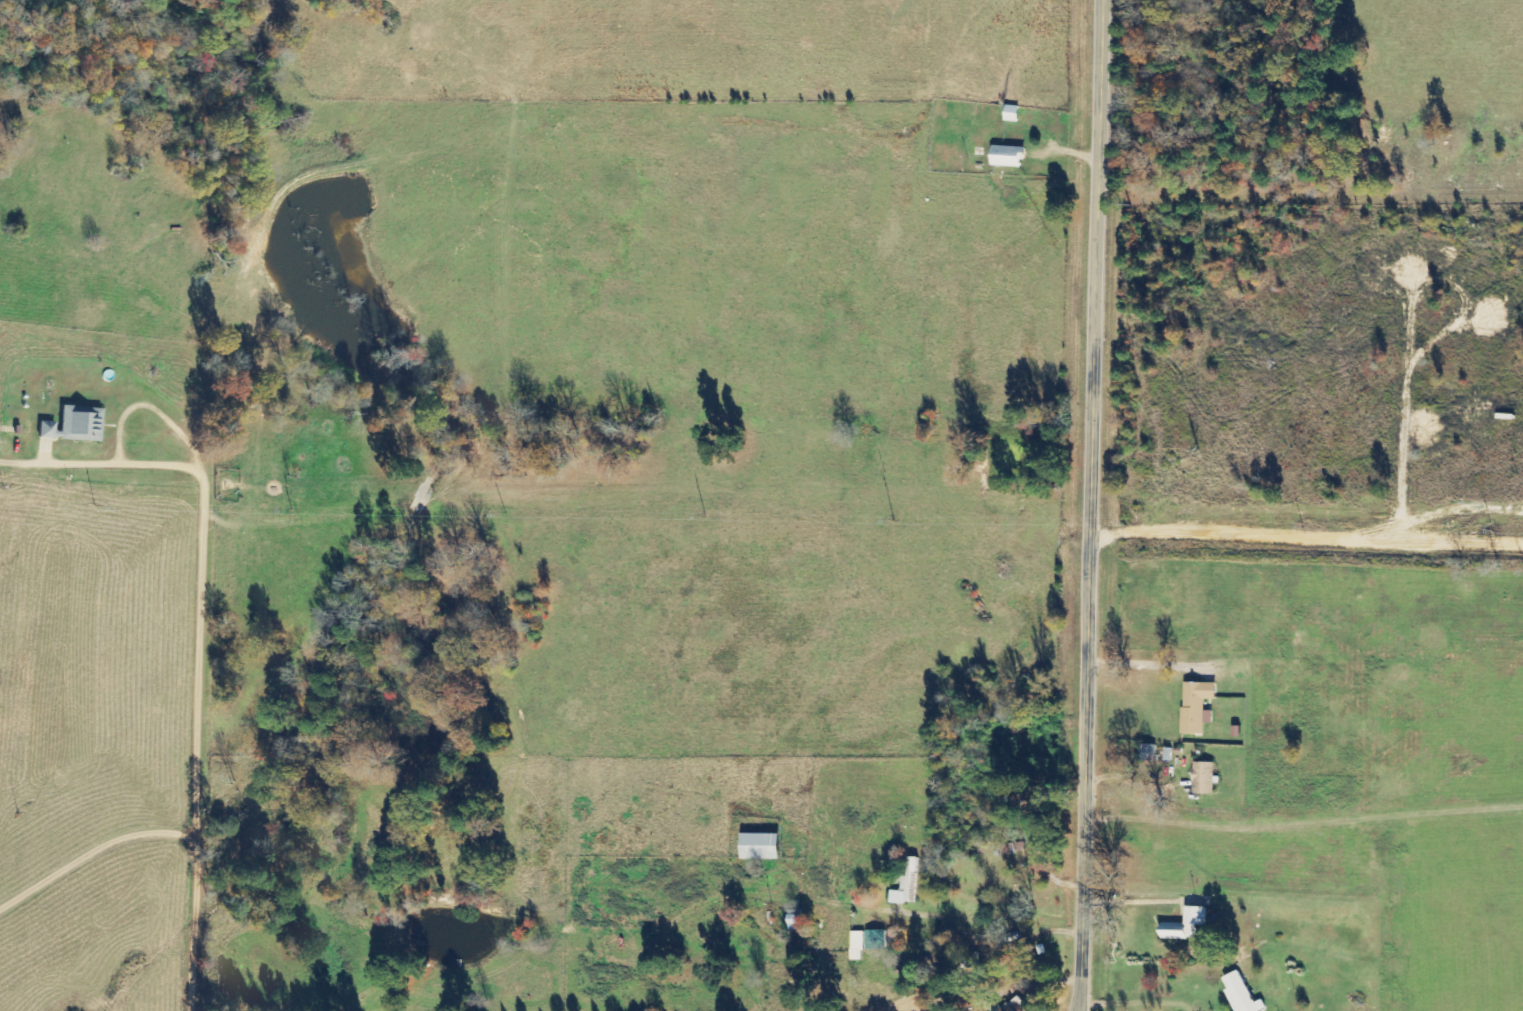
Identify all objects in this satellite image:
building: (1011, 113)
road: (1282, 141)
building: (1005, 156)
building: (72, 425)
road: (1306, 449)
road: (1088, 505)
building: (1197, 707)
building: (1147, 753)
building: (1203, 778)
road: (179, 827)
building: (760, 845)
building: (906, 883)
building: (795, 924)
building: (1184, 925)
building: (866, 942)
building: (1241, 993)
building: (1004, 1006)
road: (1080, 1008)

